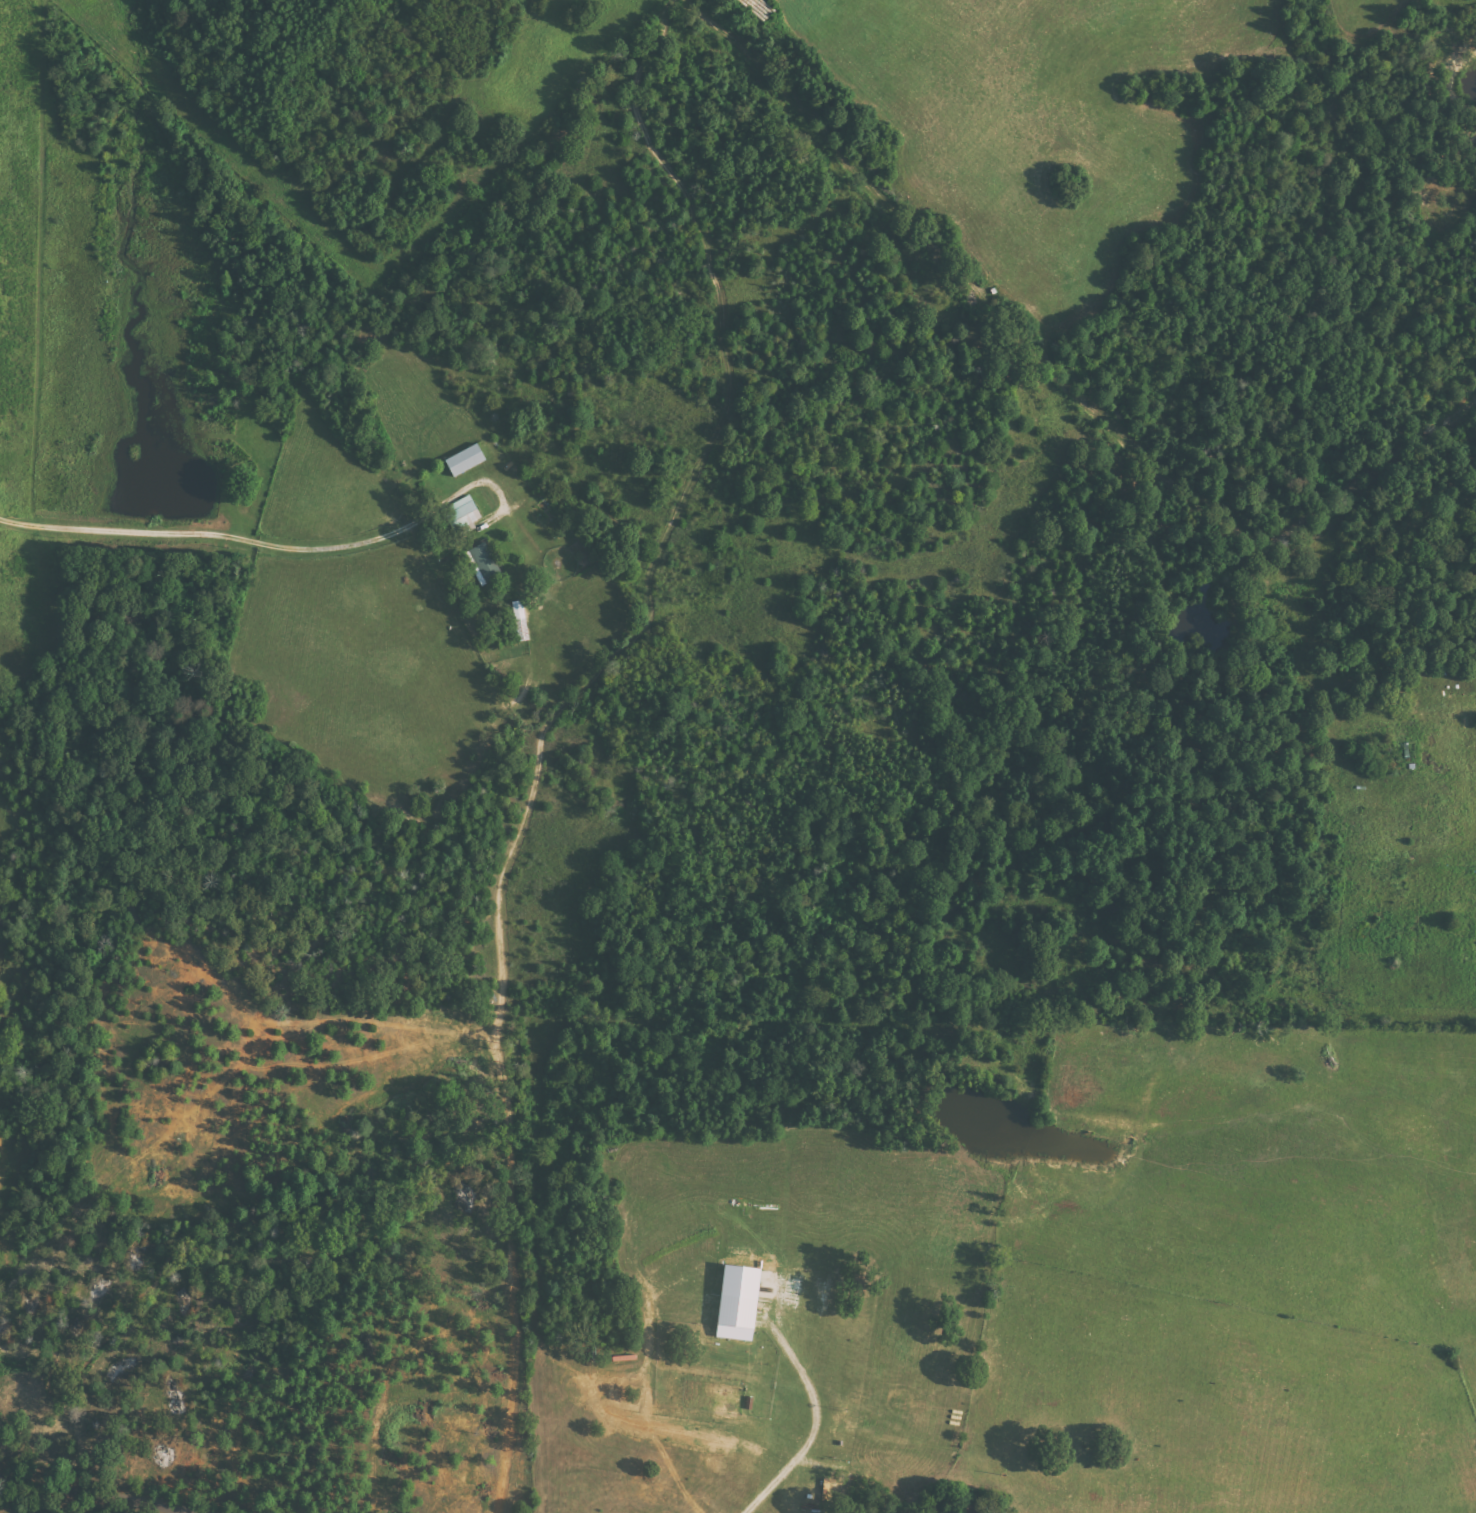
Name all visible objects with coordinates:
road: (6, 41)
road: (1318, 198)
building: (461, 461)
building: (459, 516)
building: (480, 564)
road: (1461, 672)
road: (1366, 915)
building: (733, 1302)
road: (98, 1497)

